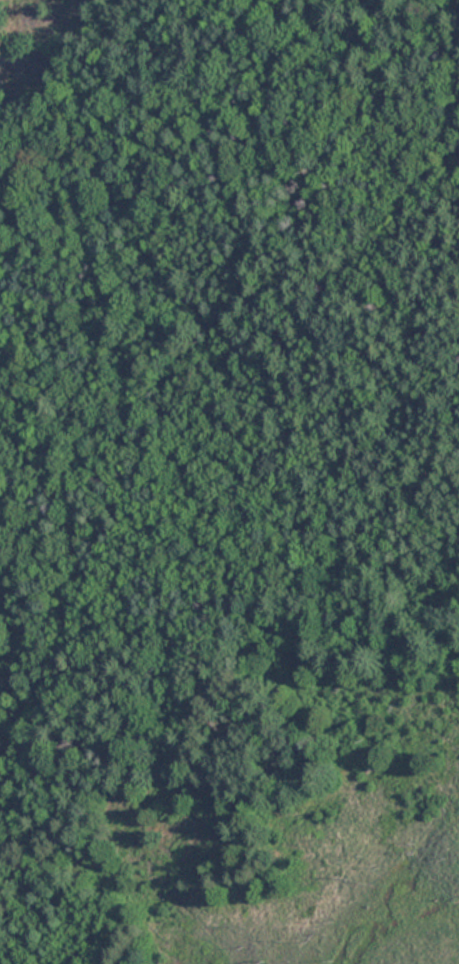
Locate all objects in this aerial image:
park: (229, 482)

